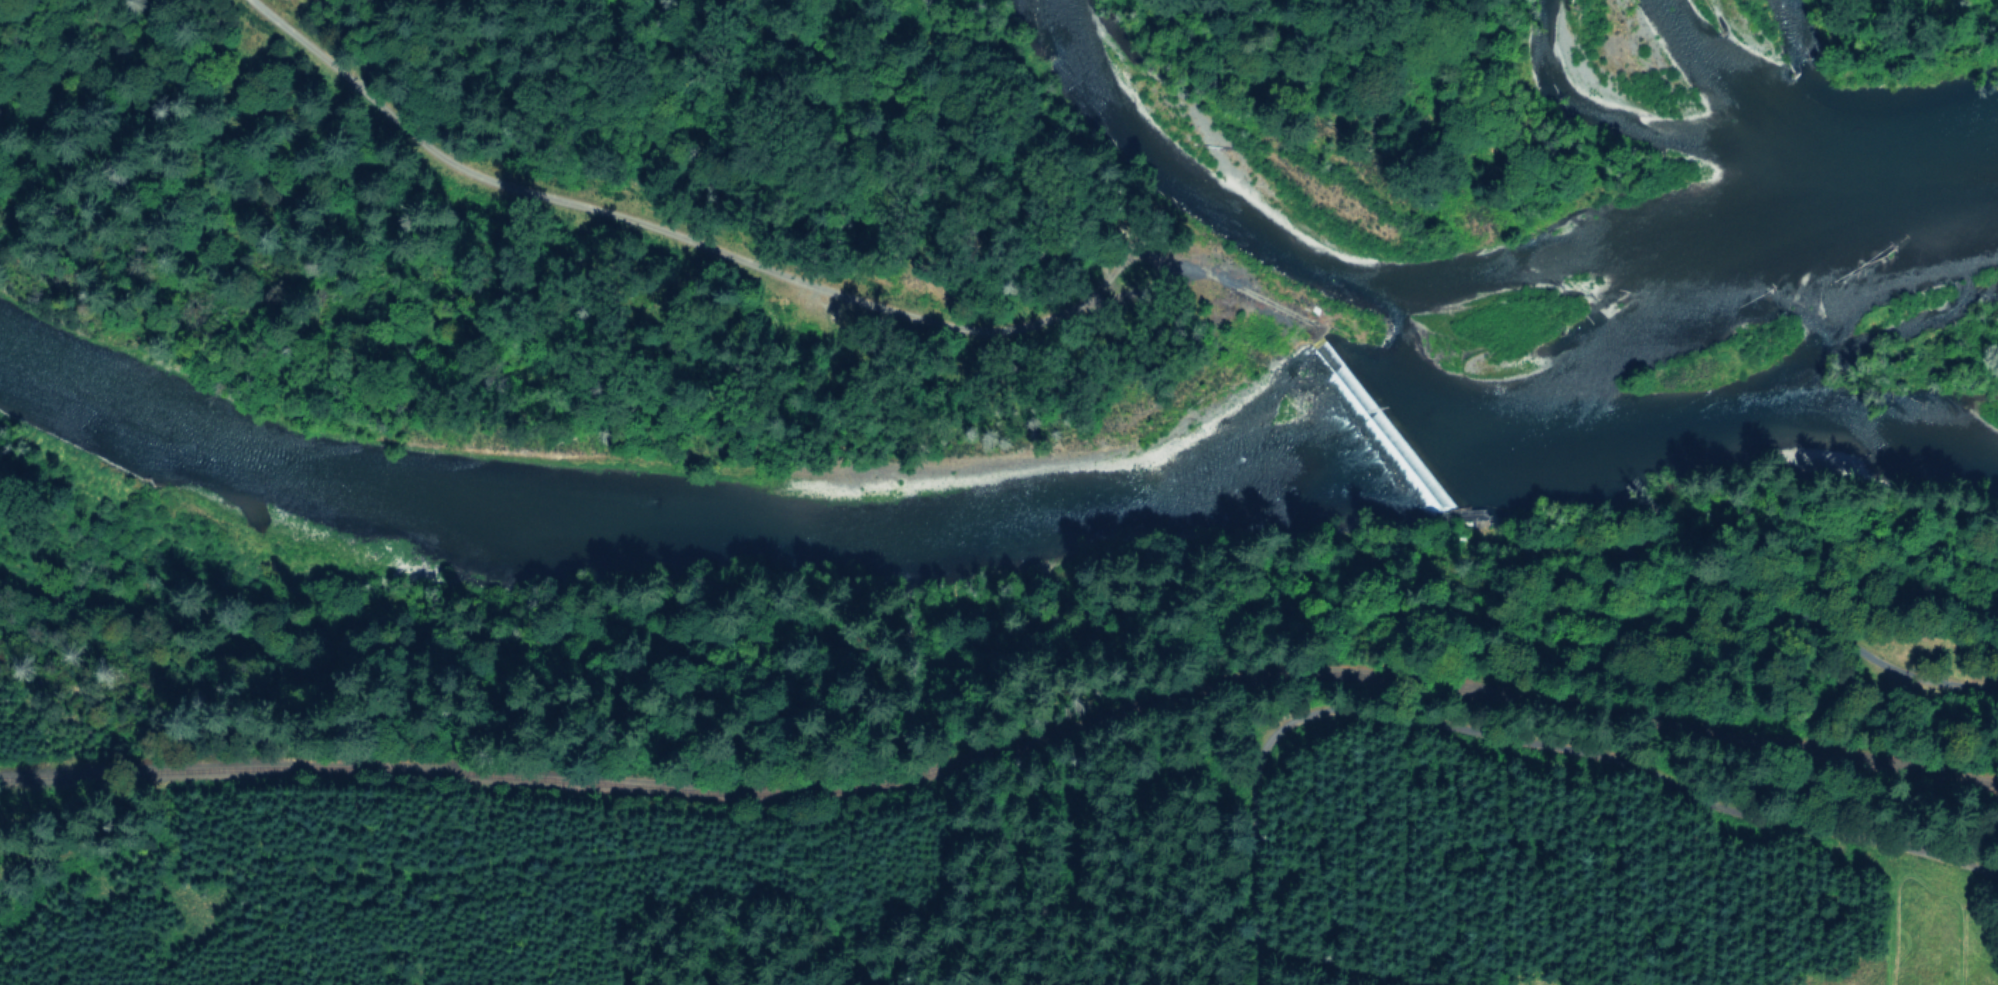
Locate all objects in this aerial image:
road: (656, 226)
road: (1159, 265)
road: (1231, 284)
dam: (1379, 431)
river: (1020, 521)
road: (1737, 586)
road: (1518, 737)
railway: (1005, 741)

